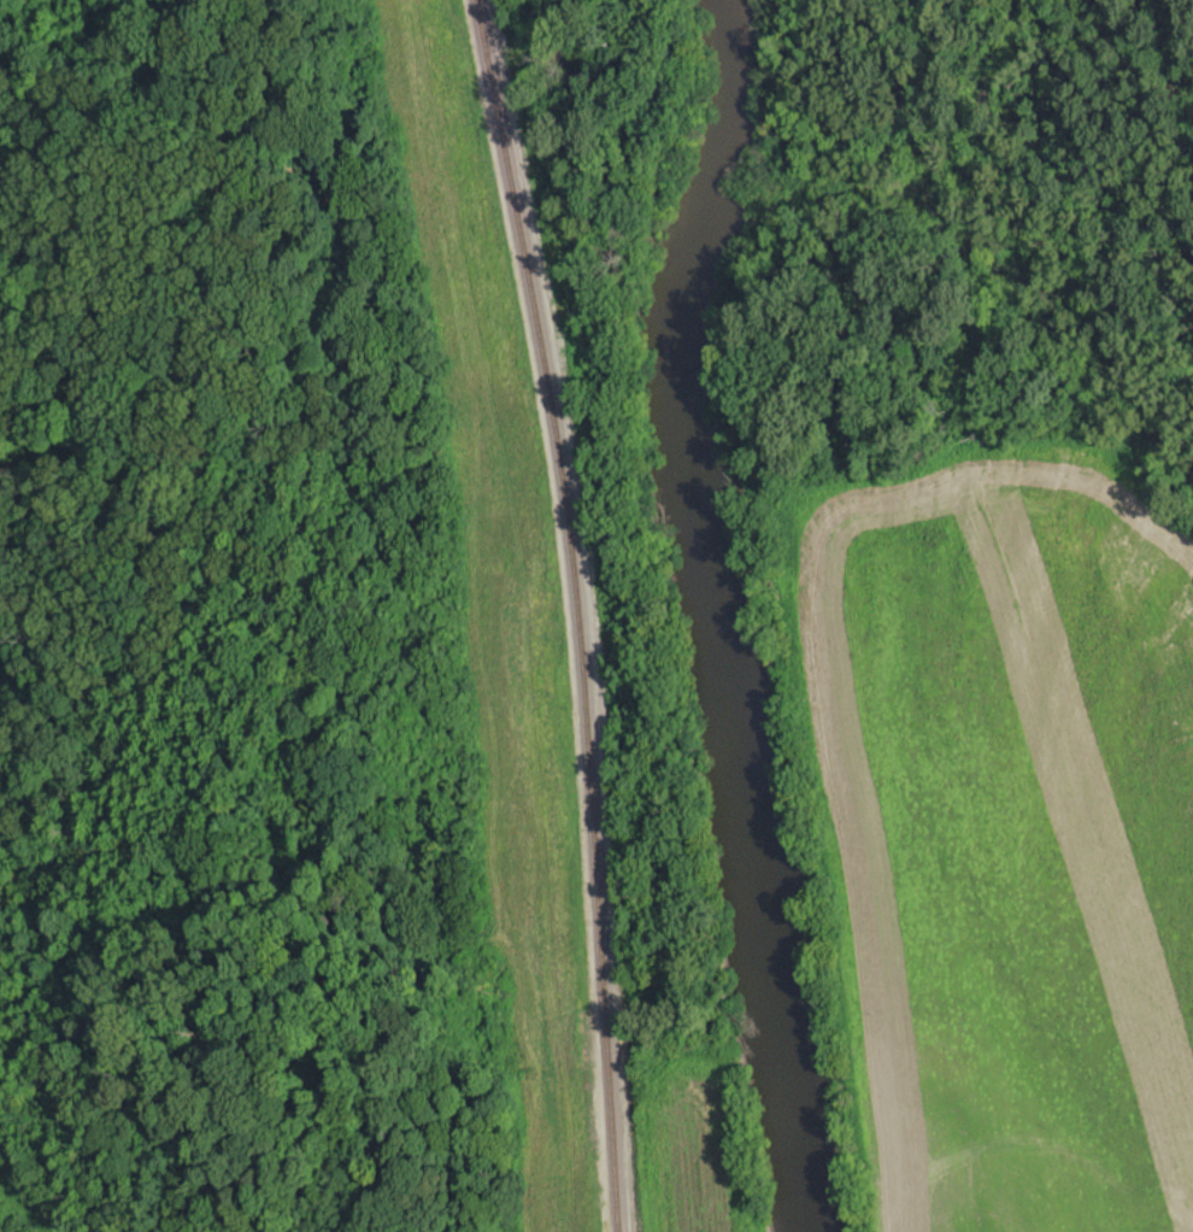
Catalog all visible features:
railway: (578, 612)
crop: (1007, 838)
crop: (694, 1151)

